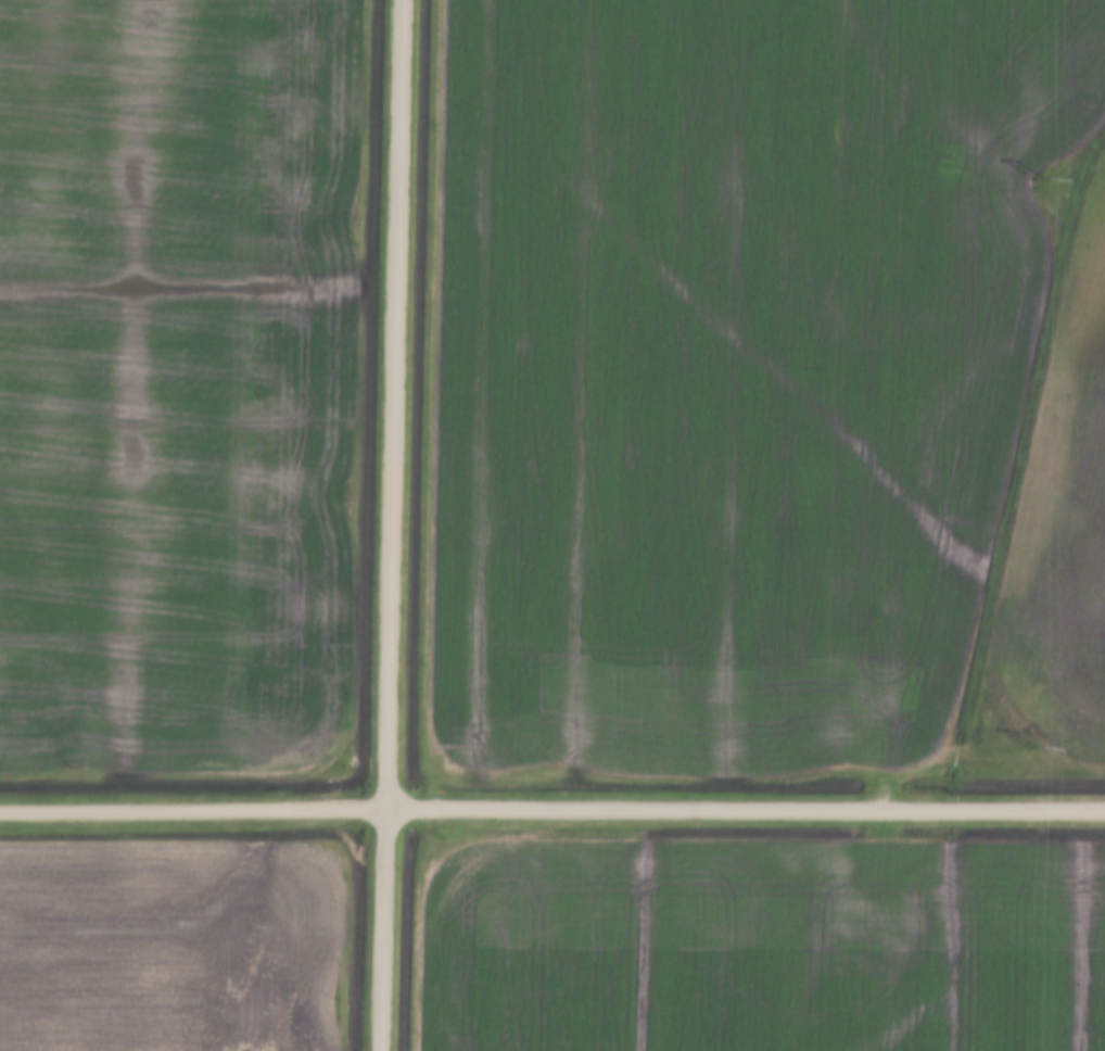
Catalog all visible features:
power tower: (1038, 178)
crop: (176, 378)
crop: (769, 389)
road: (386, 525)
power tower: (1031, 745)
road: (552, 809)
crop: (173, 945)
crop: (760, 946)

